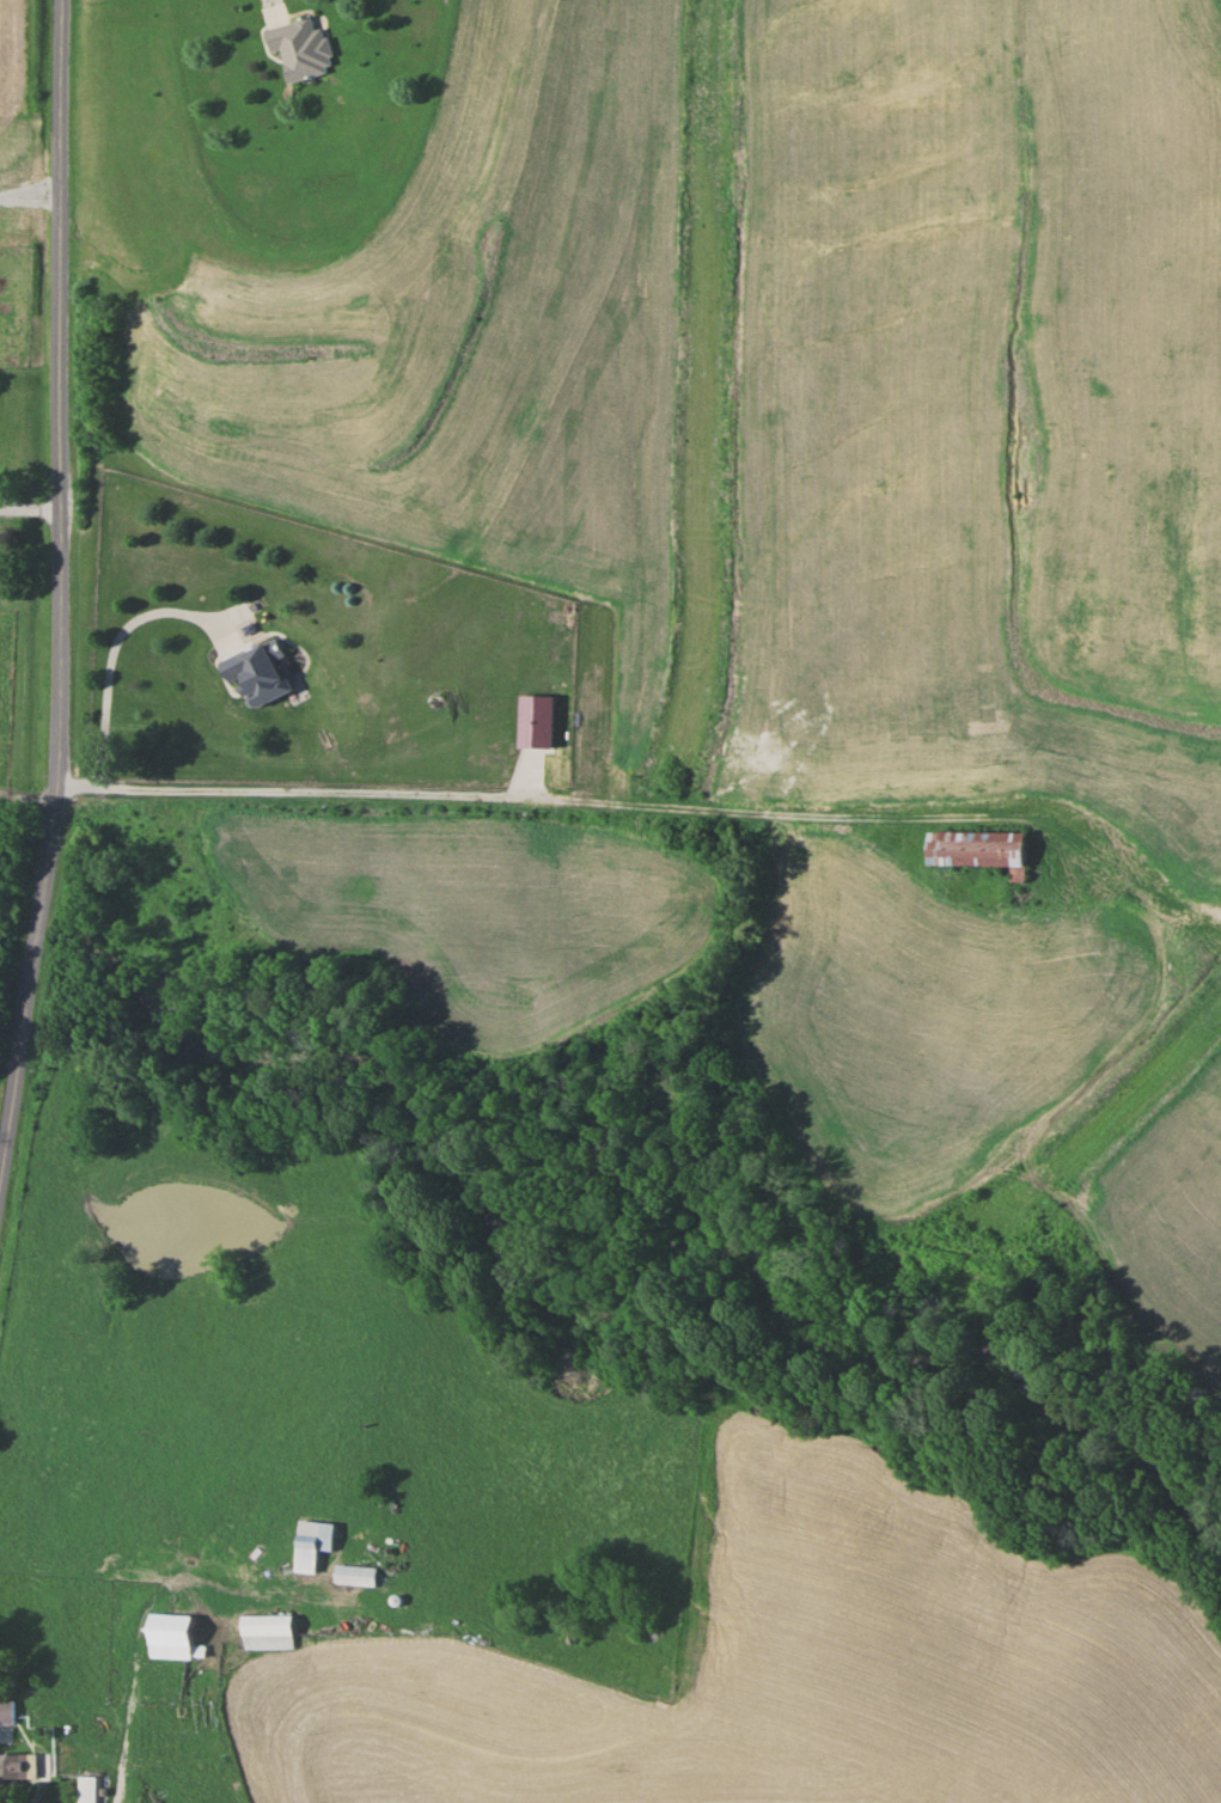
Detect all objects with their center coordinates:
road: (276, 8)
building: (297, 48)
road: (29, 508)
road: (59, 579)
road: (120, 638)
road: (625, 800)
building: (975, 847)
building: (313, 1539)
building: (354, 1575)
building: (264, 1631)
building: (170, 1637)
building: (6, 1710)
road: (45, 1747)
building: (18, 1766)
building: (86, 1789)

